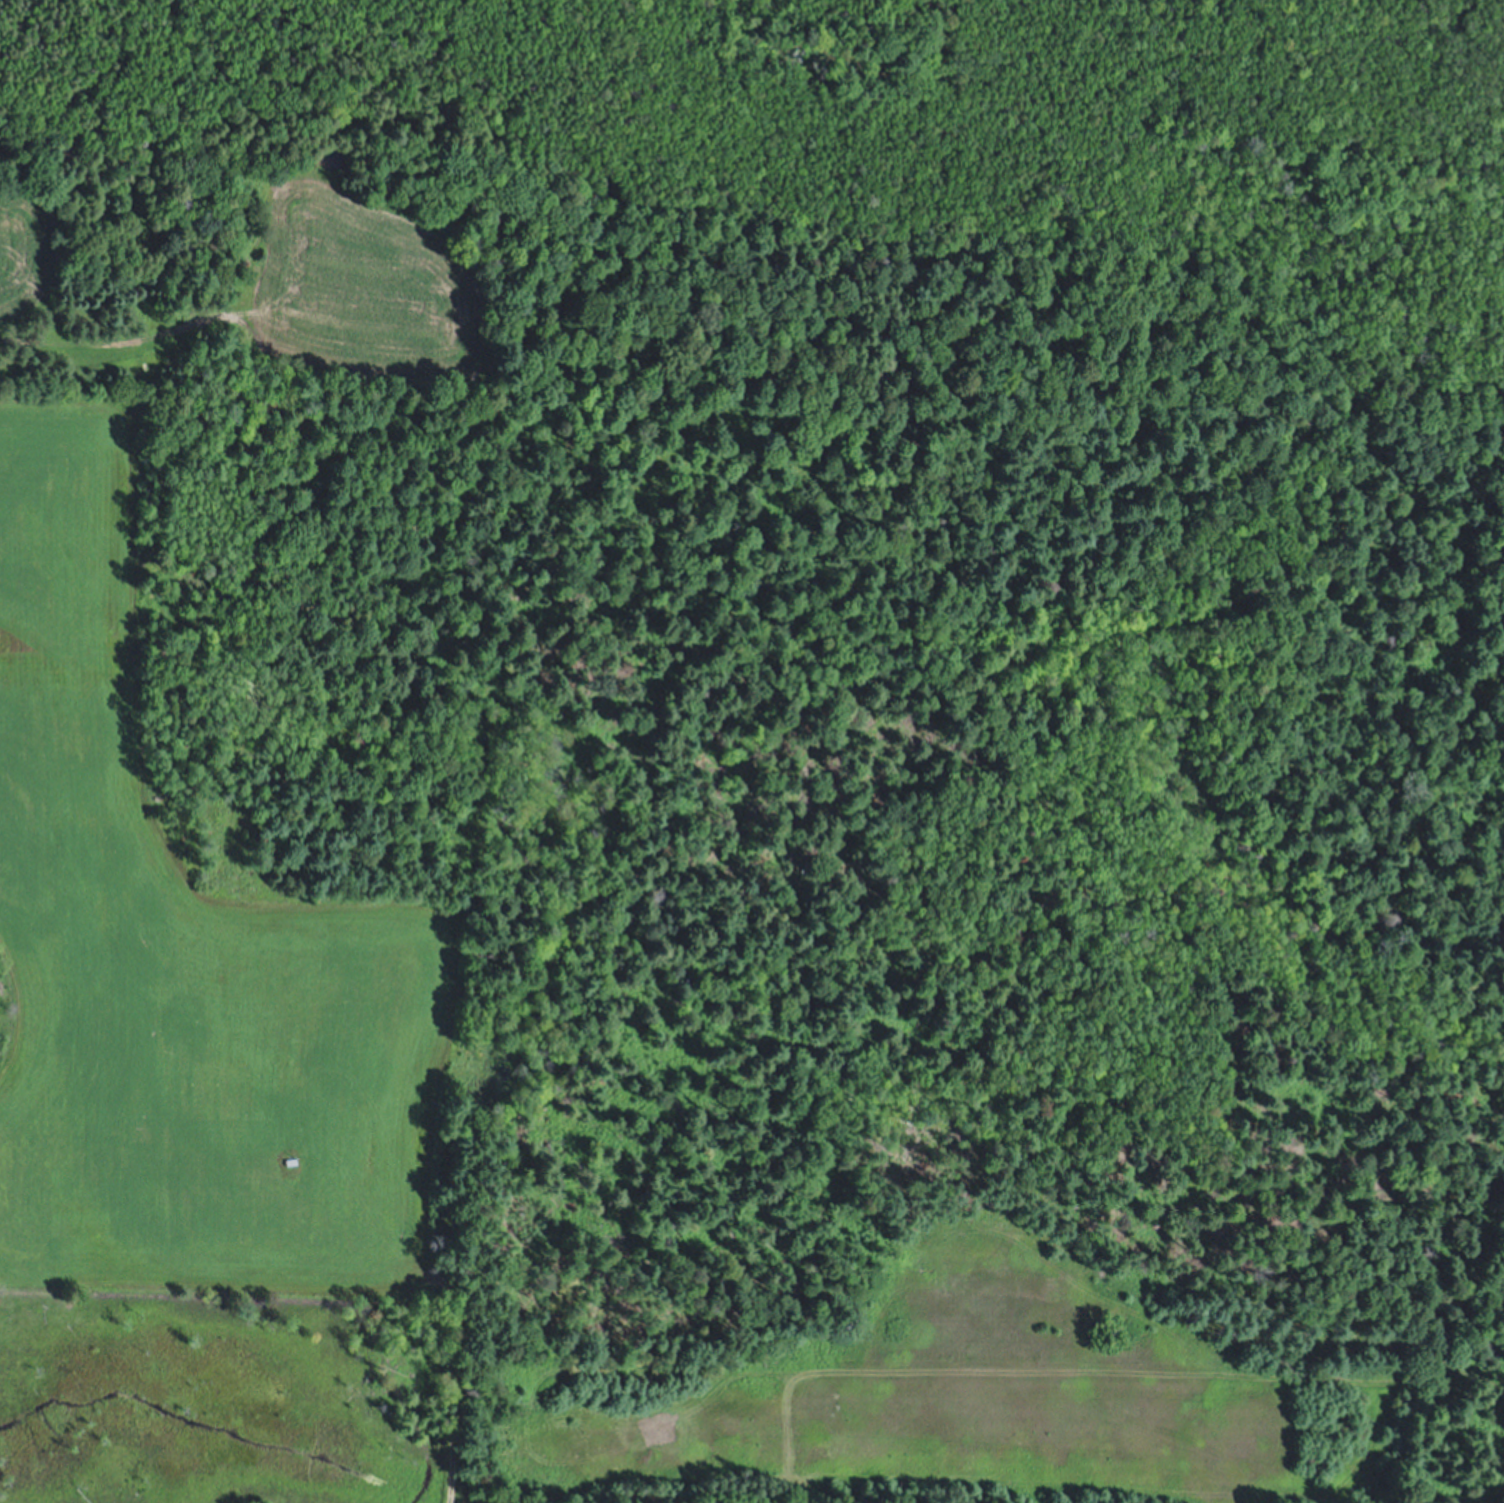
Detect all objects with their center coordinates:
building: (292, 1159)

